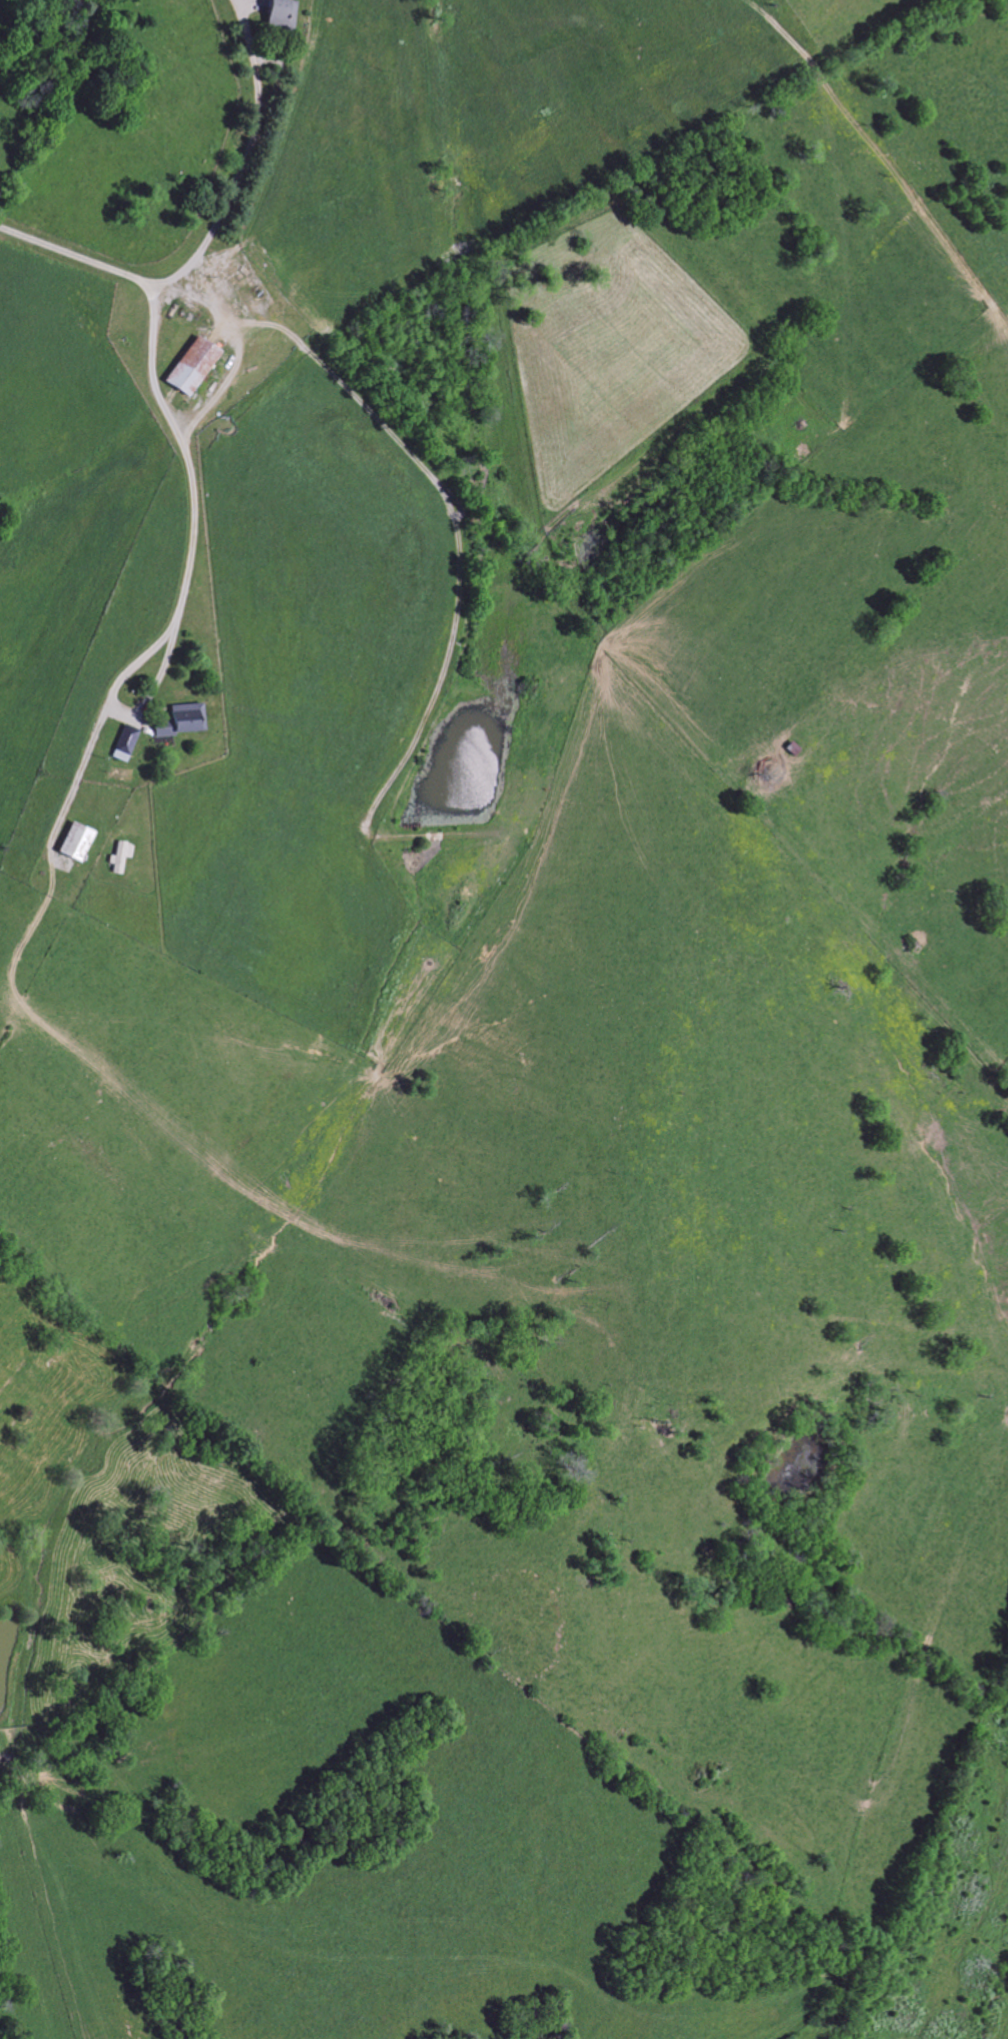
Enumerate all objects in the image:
building: (281, 15)
road: (223, 199)
road: (71, 256)
building: (193, 366)
road: (187, 558)
building: (181, 720)
building: (125, 743)
building: (75, 842)
building: (120, 856)

